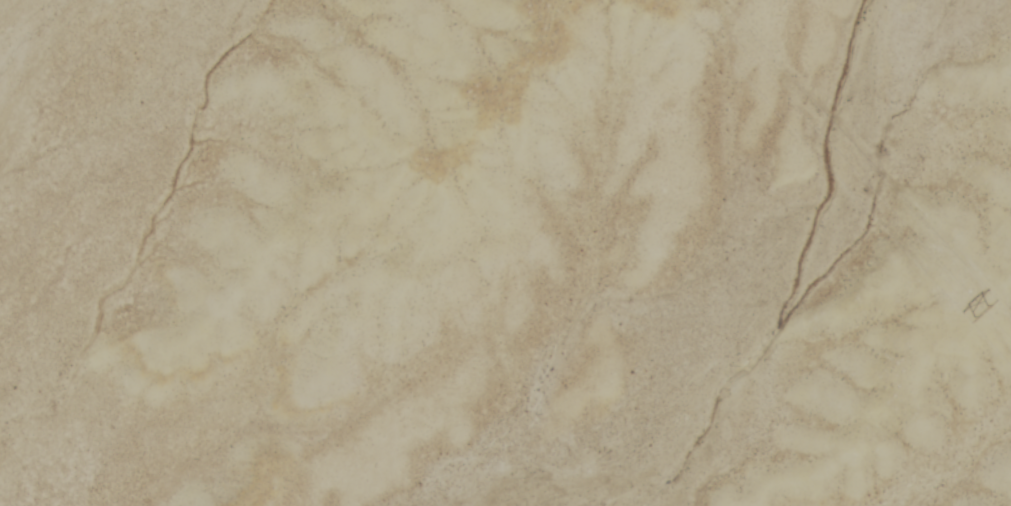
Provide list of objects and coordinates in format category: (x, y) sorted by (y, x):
power tower: (987, 310)

